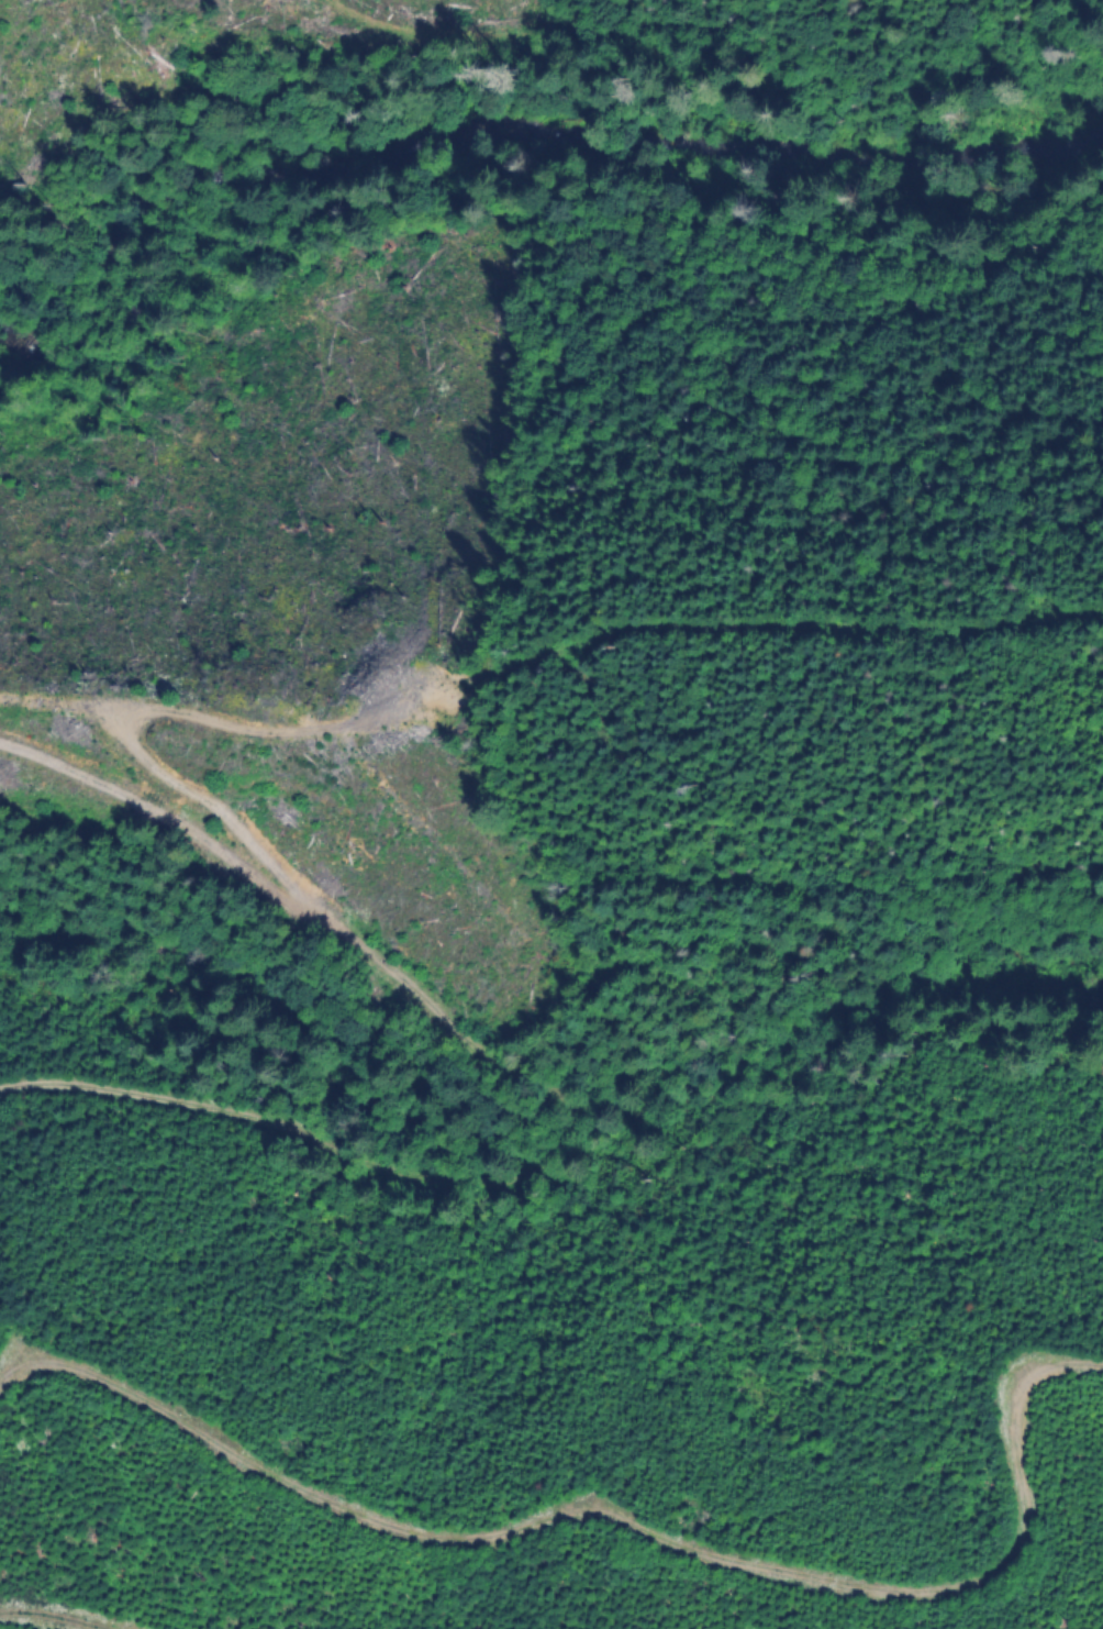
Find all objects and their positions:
road: (192, 784)

